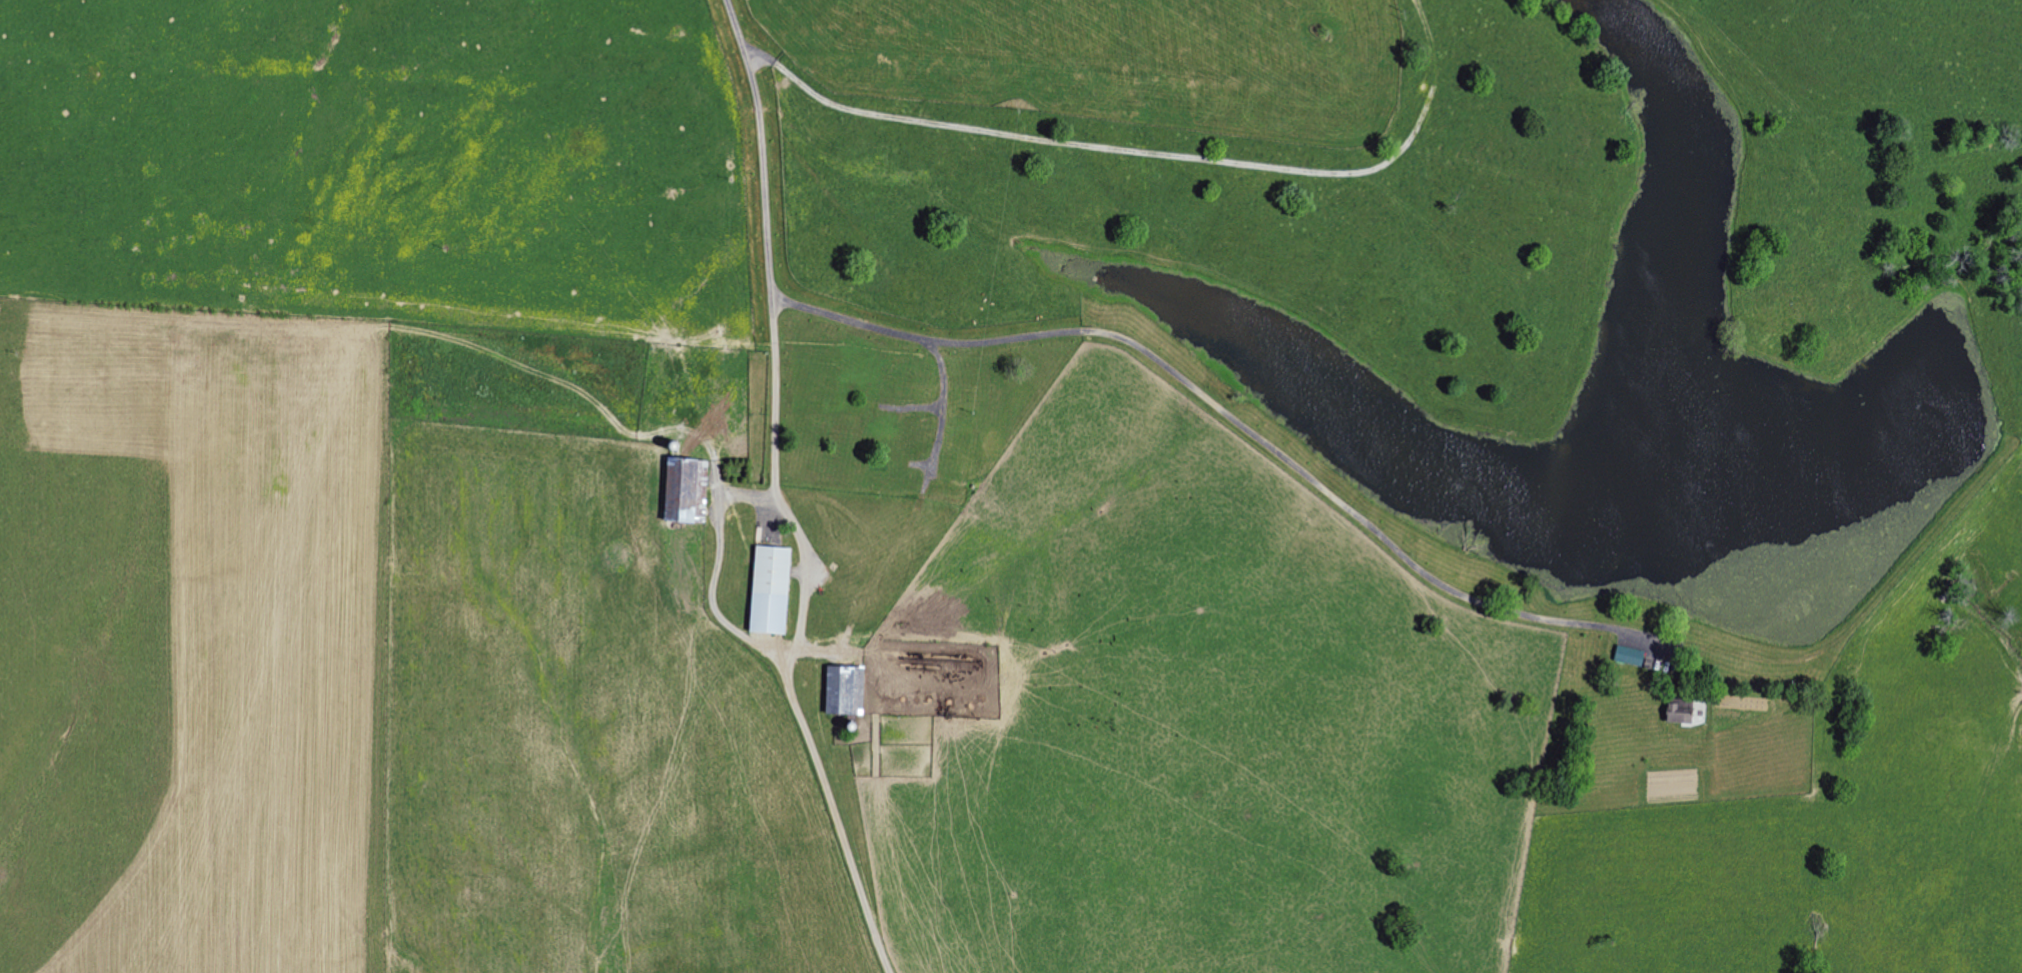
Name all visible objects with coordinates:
road: (775, 486)
building: (776, 590)
building: (1627, 655)
building: (850, 690)
road: (885, 963)

